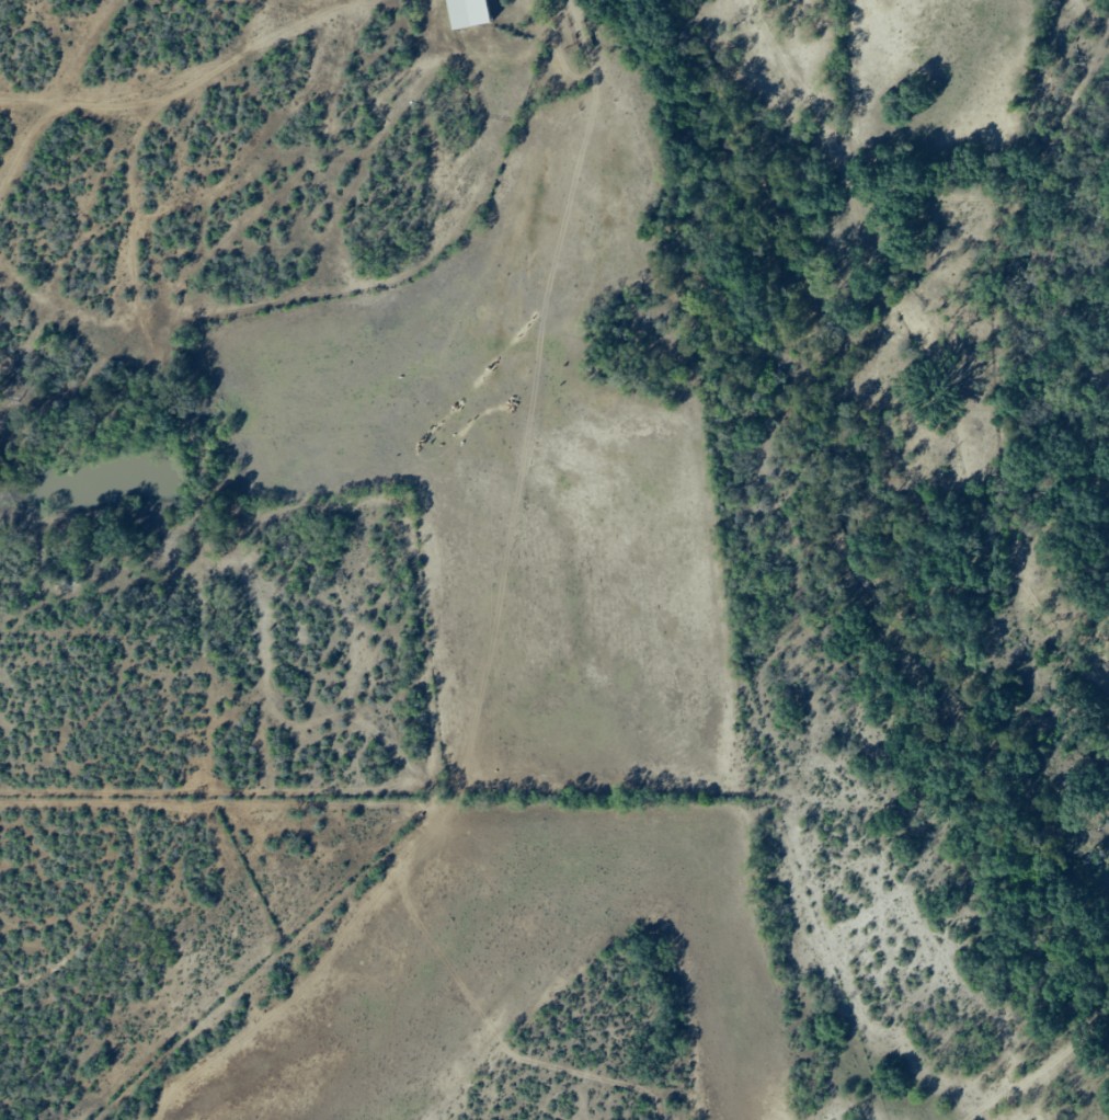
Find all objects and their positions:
building: (468, 13)

